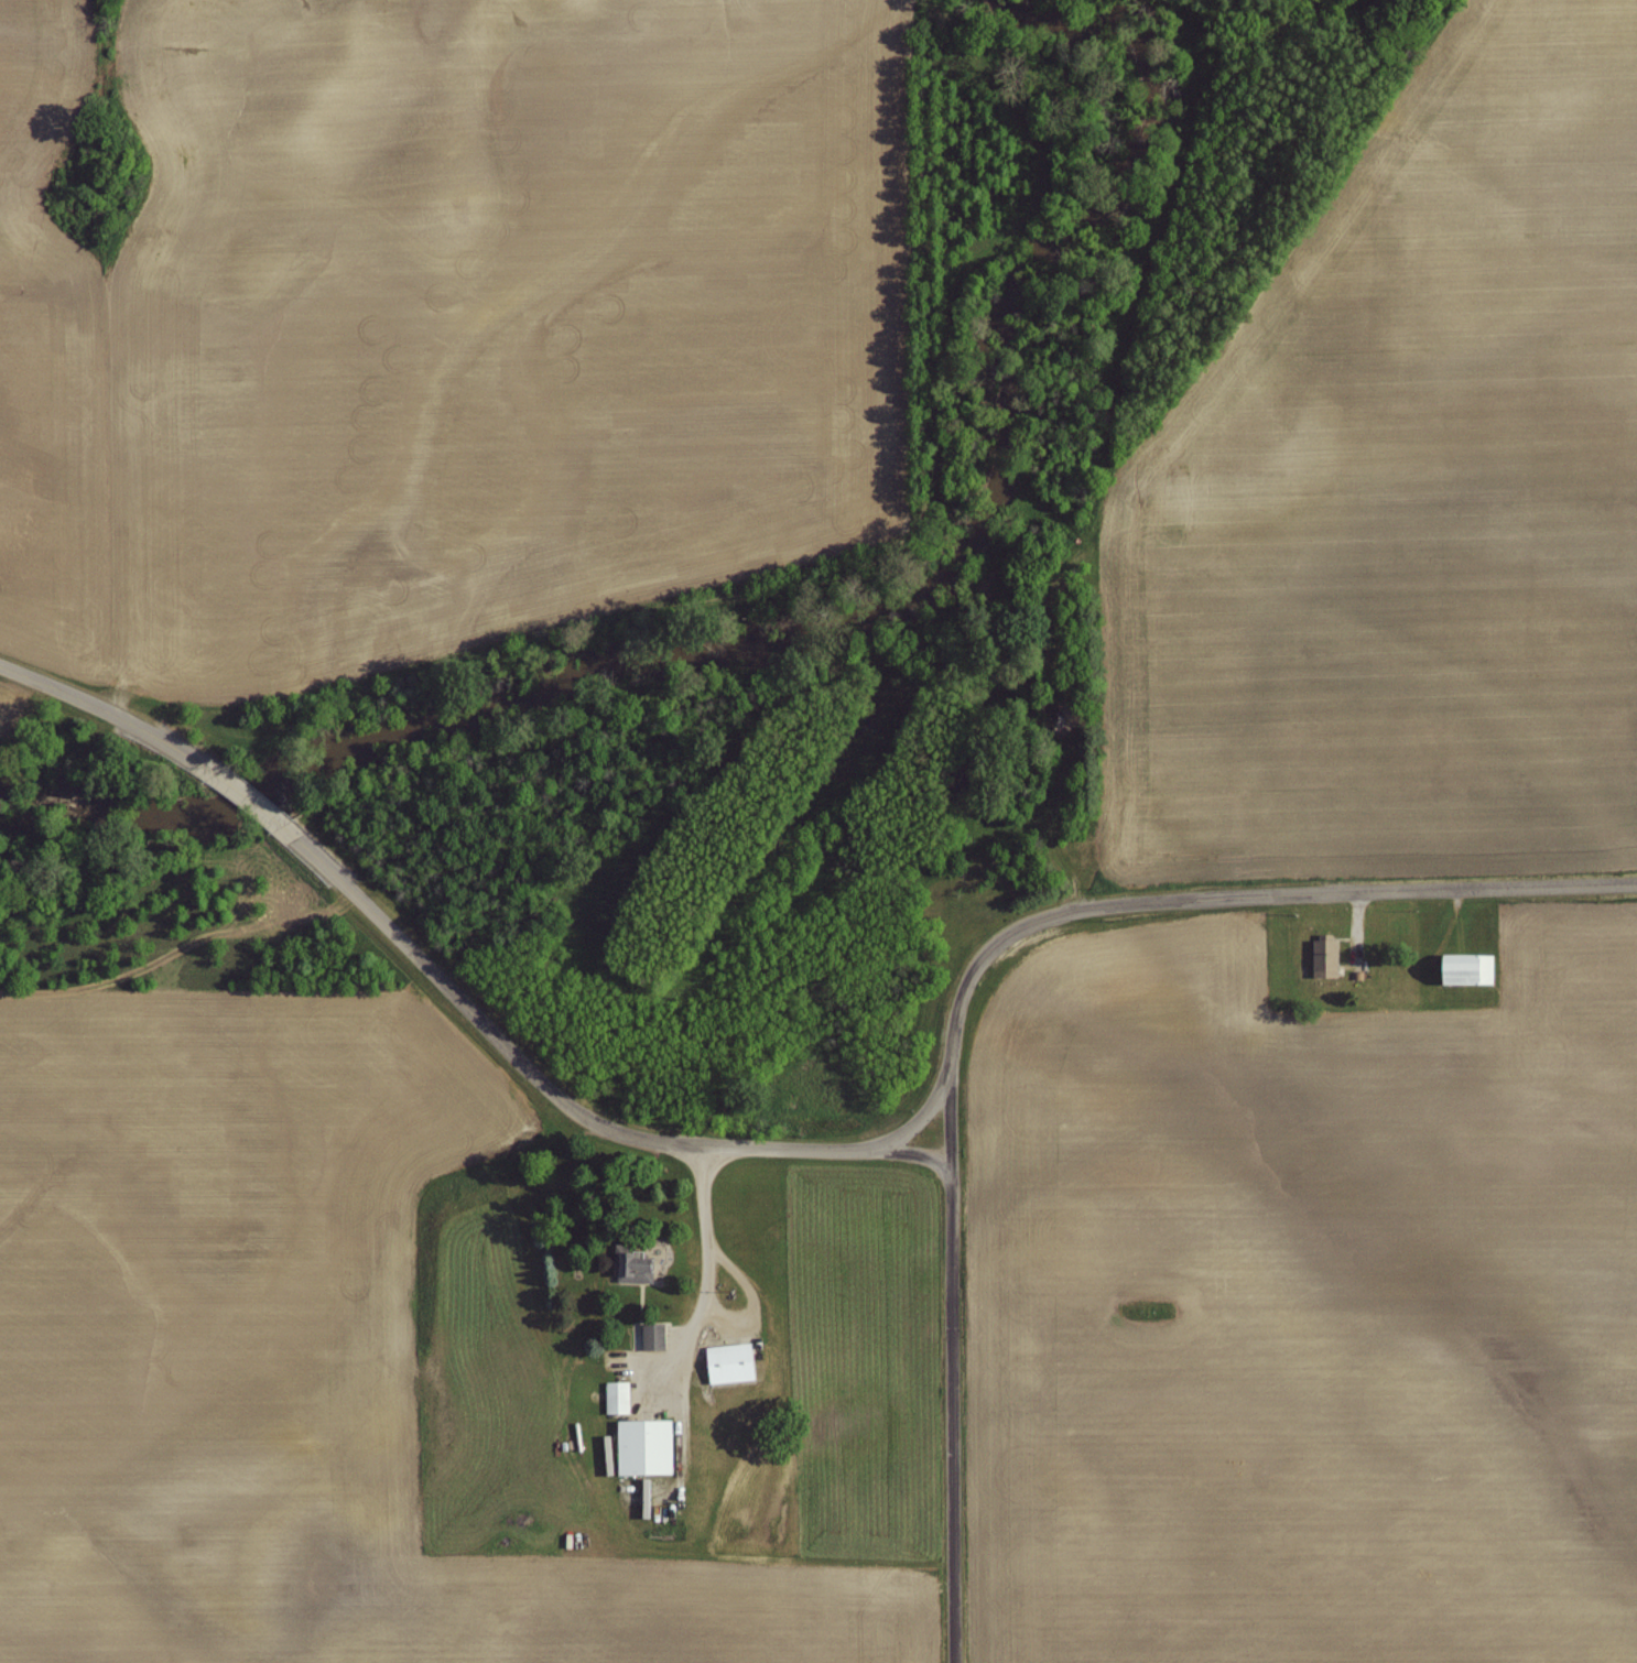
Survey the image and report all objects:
crop: (442, 326)
crop: (1401, 482)
road: (112, 711)
road: (250, 798)
road: (1188, 900)
road: (539, 1080)
road: (950, 1123)
road: (918, 1156)
crop: (1318, 1315)
crop: (282, 1365)
road: (952, 1417)

